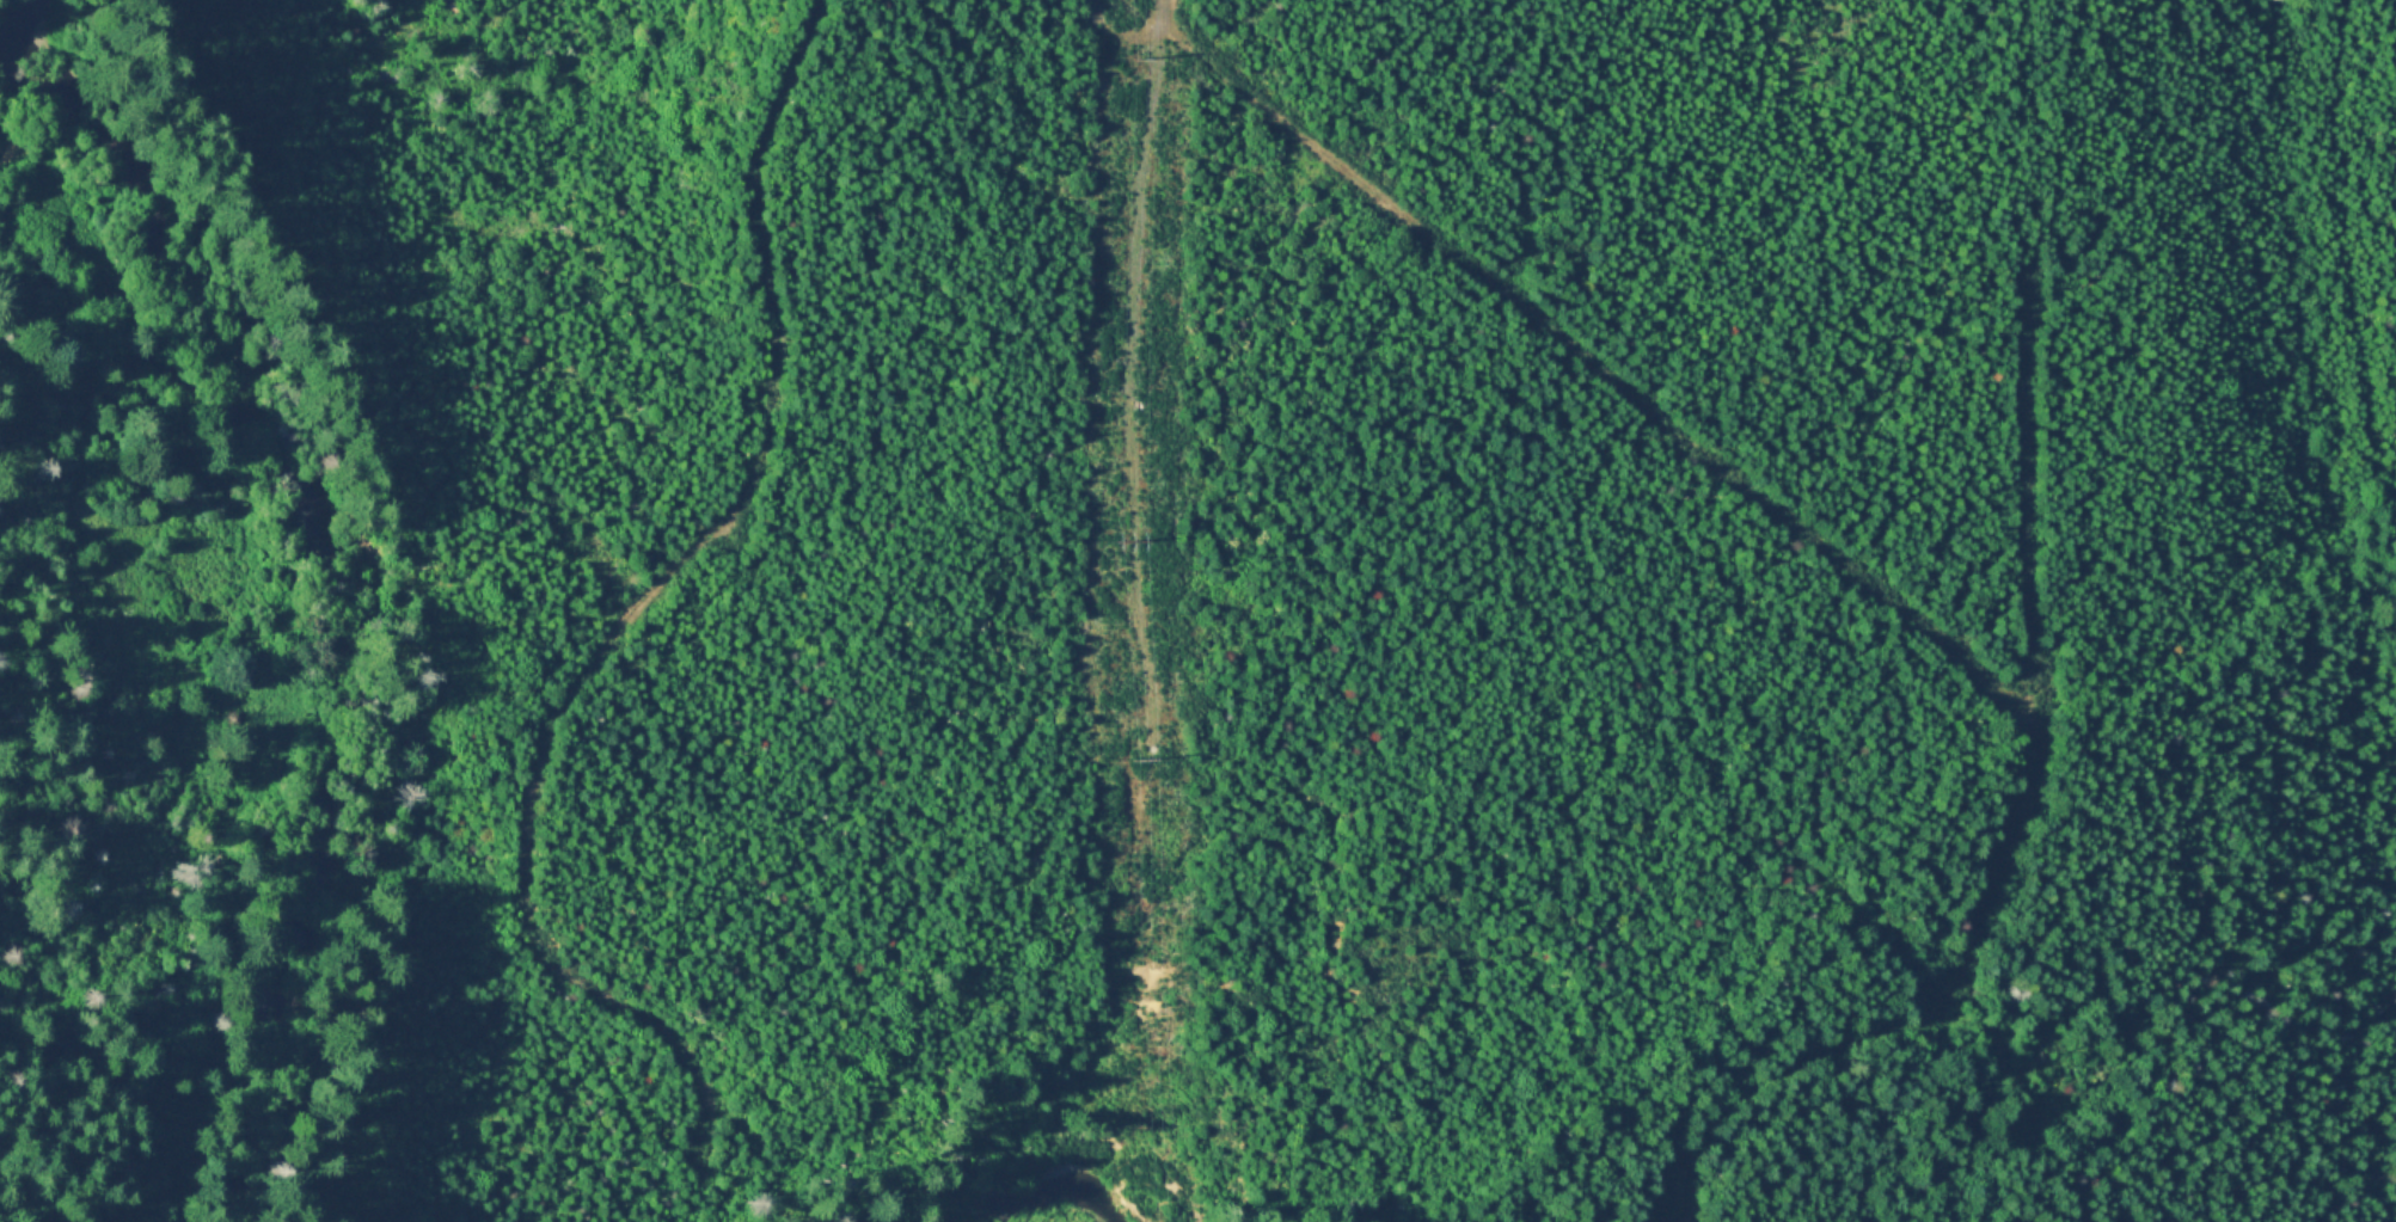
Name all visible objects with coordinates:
river: (1, 4)
road: (1158, 7)
road: (1120, 35)
road: (1132, 379)
road: (2029, 413)
road: (1857, 569)
road: (644, 587)
river: (264, 618)
road: (699, 1120)

